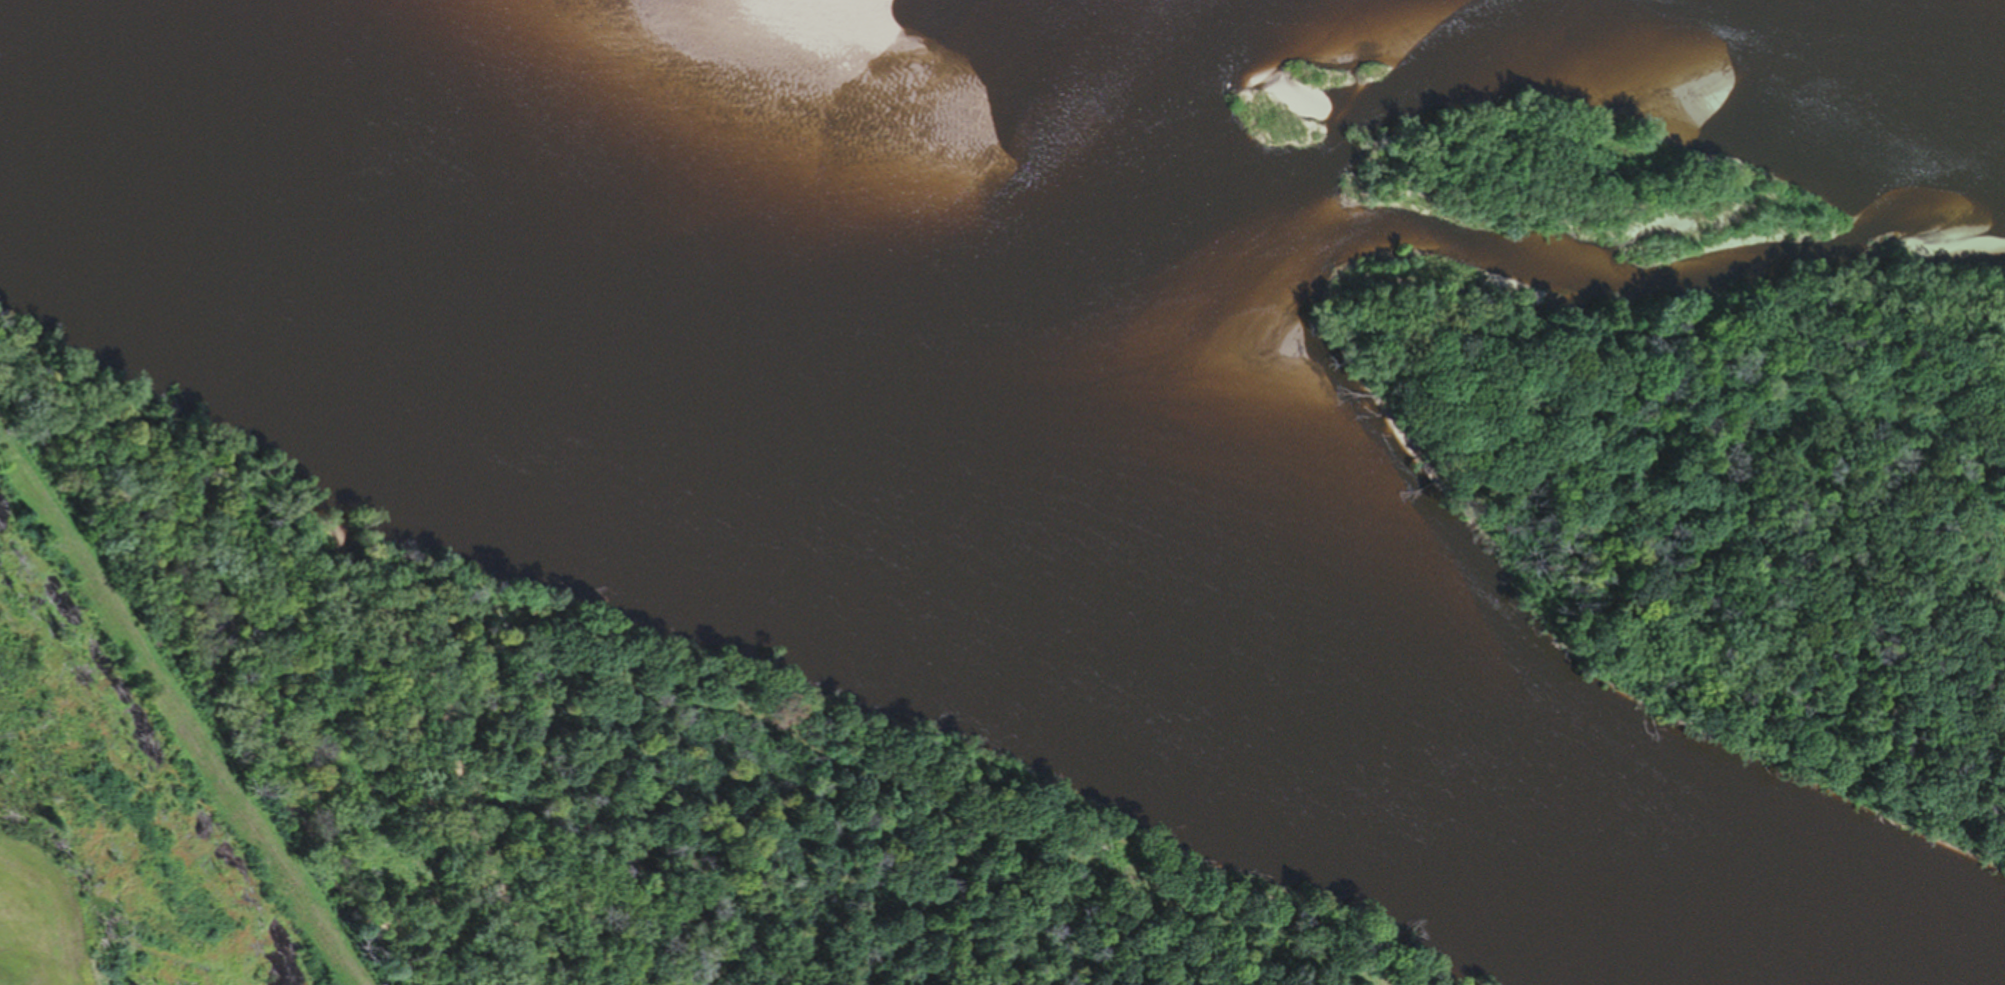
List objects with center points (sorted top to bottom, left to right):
river: (875, 498)
road: (183, 709)

